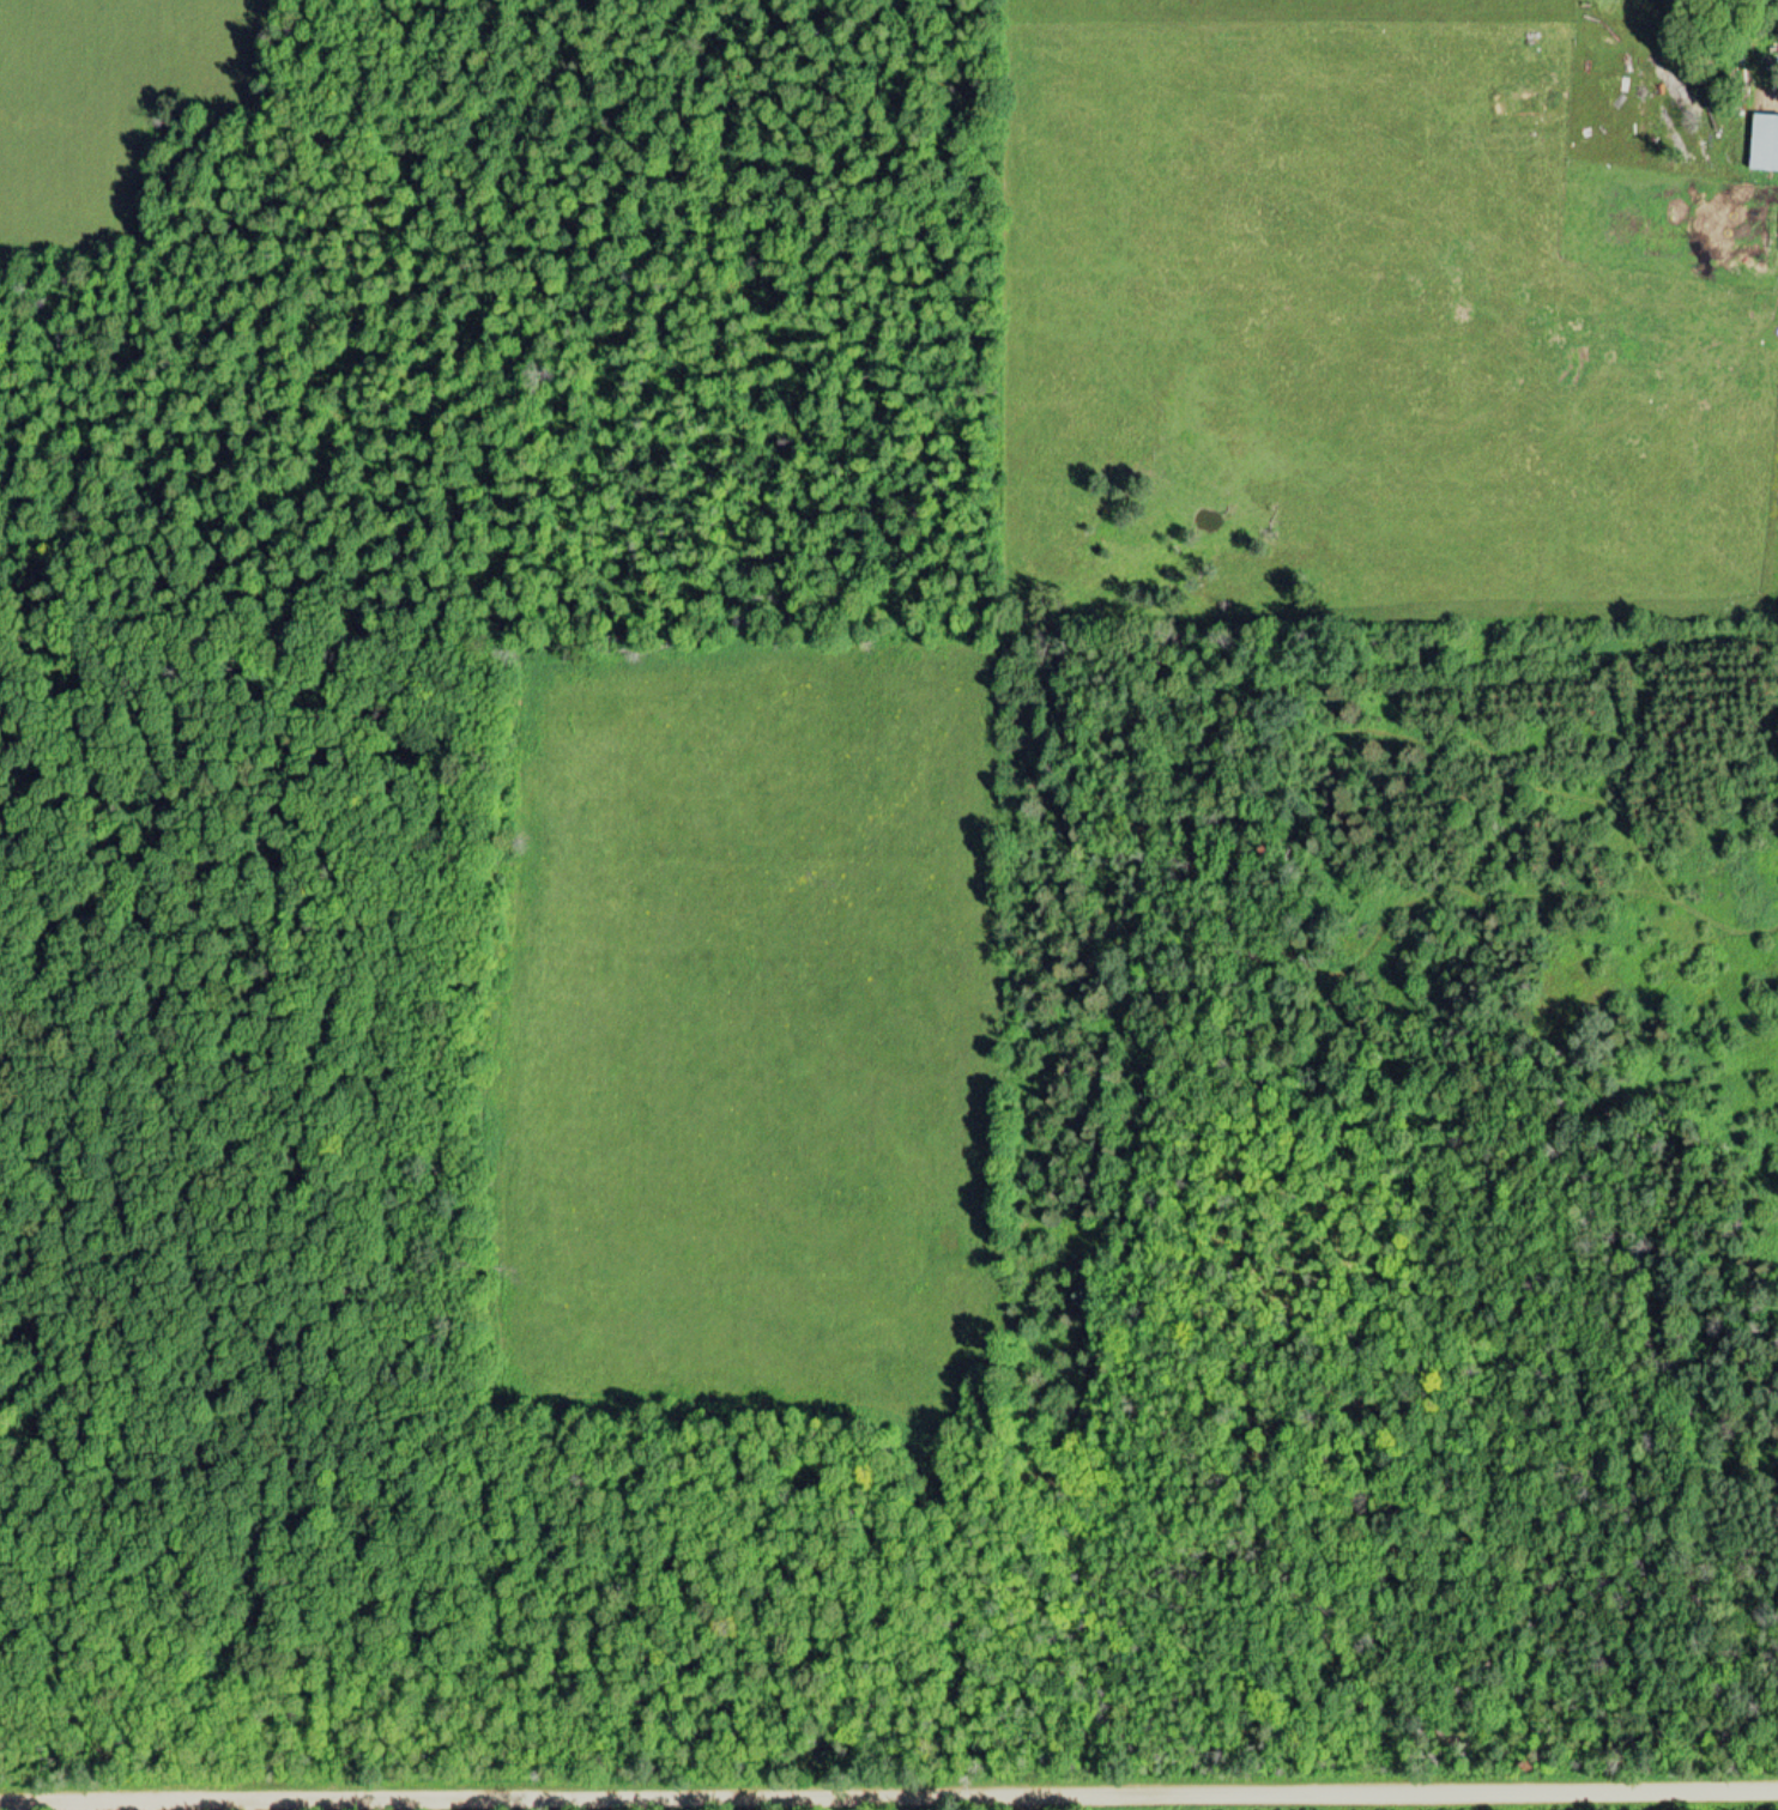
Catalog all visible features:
building: (1764, 144)
road: (889, 1797)

